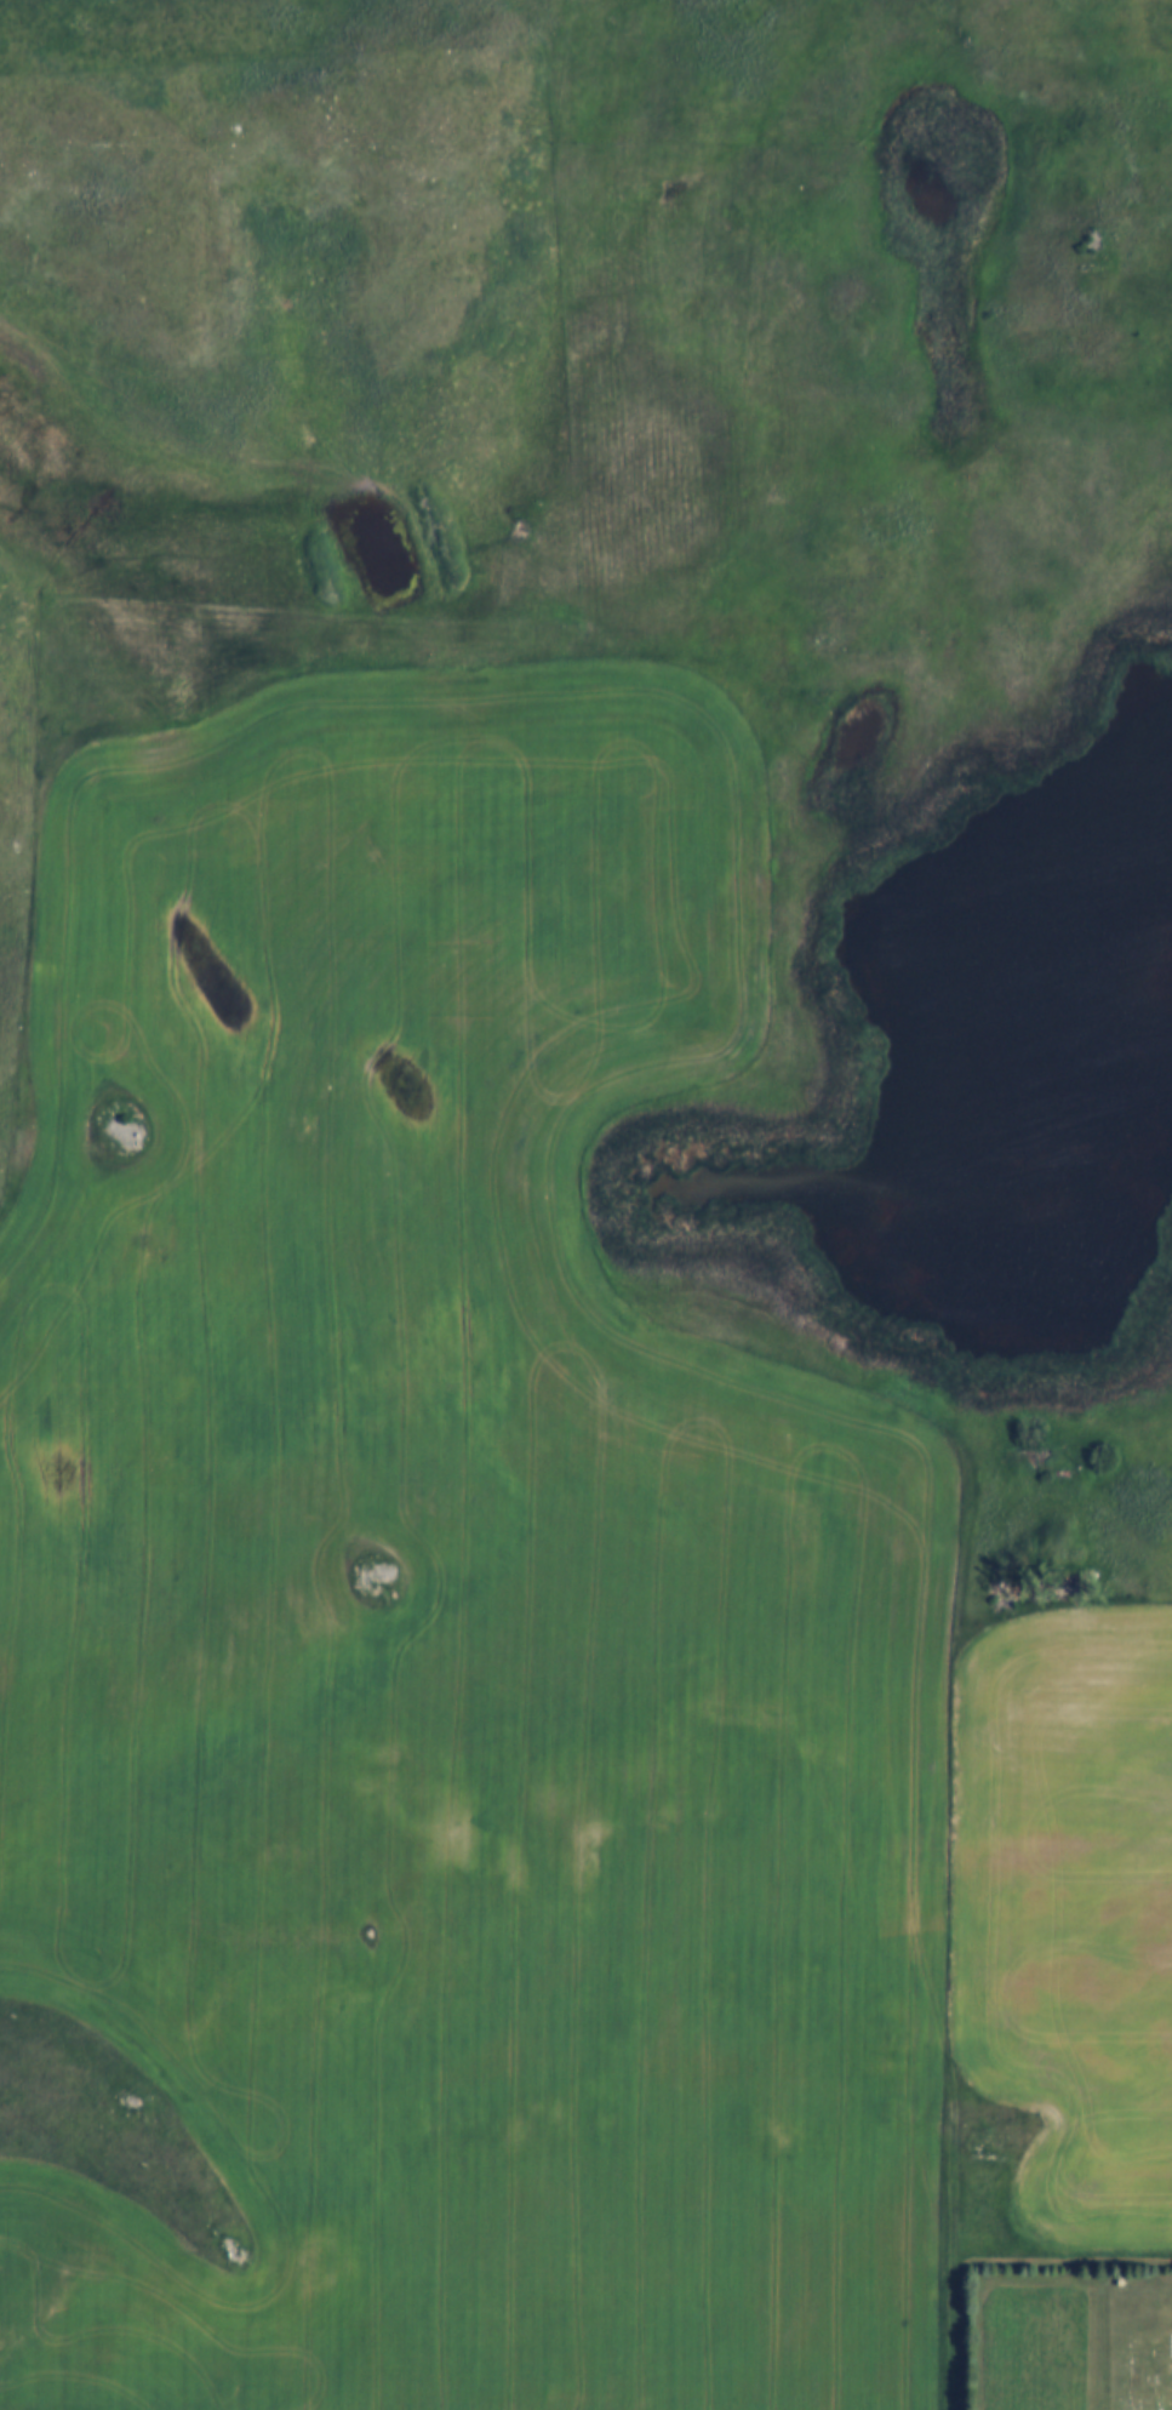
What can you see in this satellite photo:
park: (1070, 2328)

